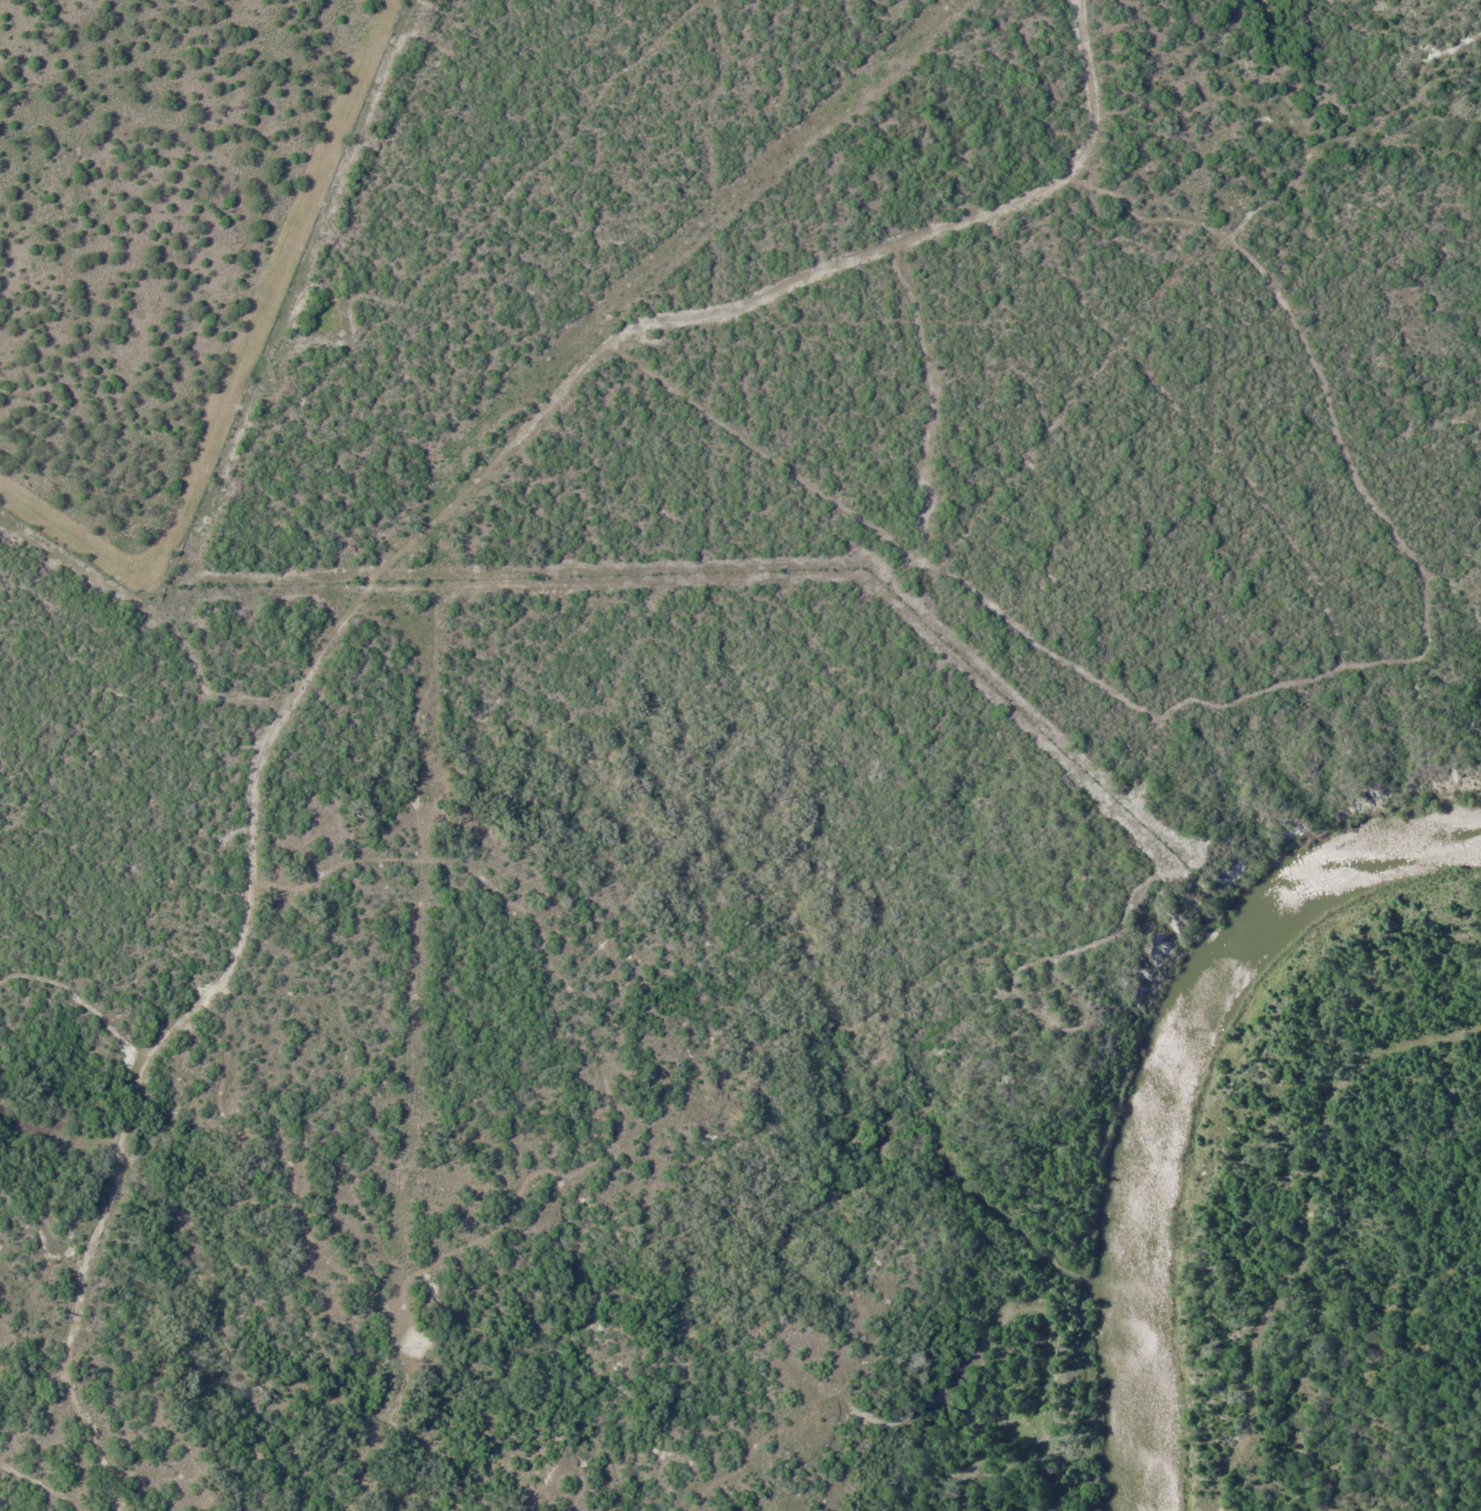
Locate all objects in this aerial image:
river: (1171, 1081)
road: (1333, 1244)

